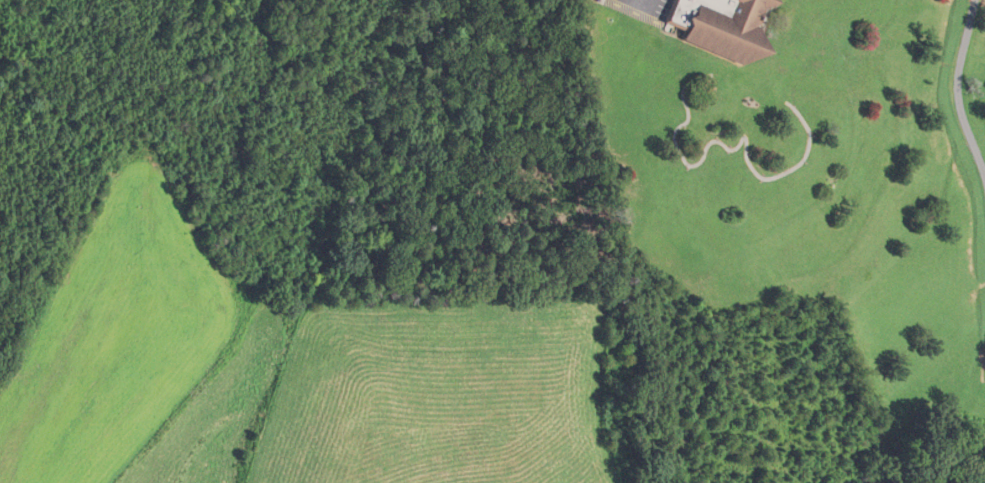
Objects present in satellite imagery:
building: (715, 25)
road: (963, 83)

